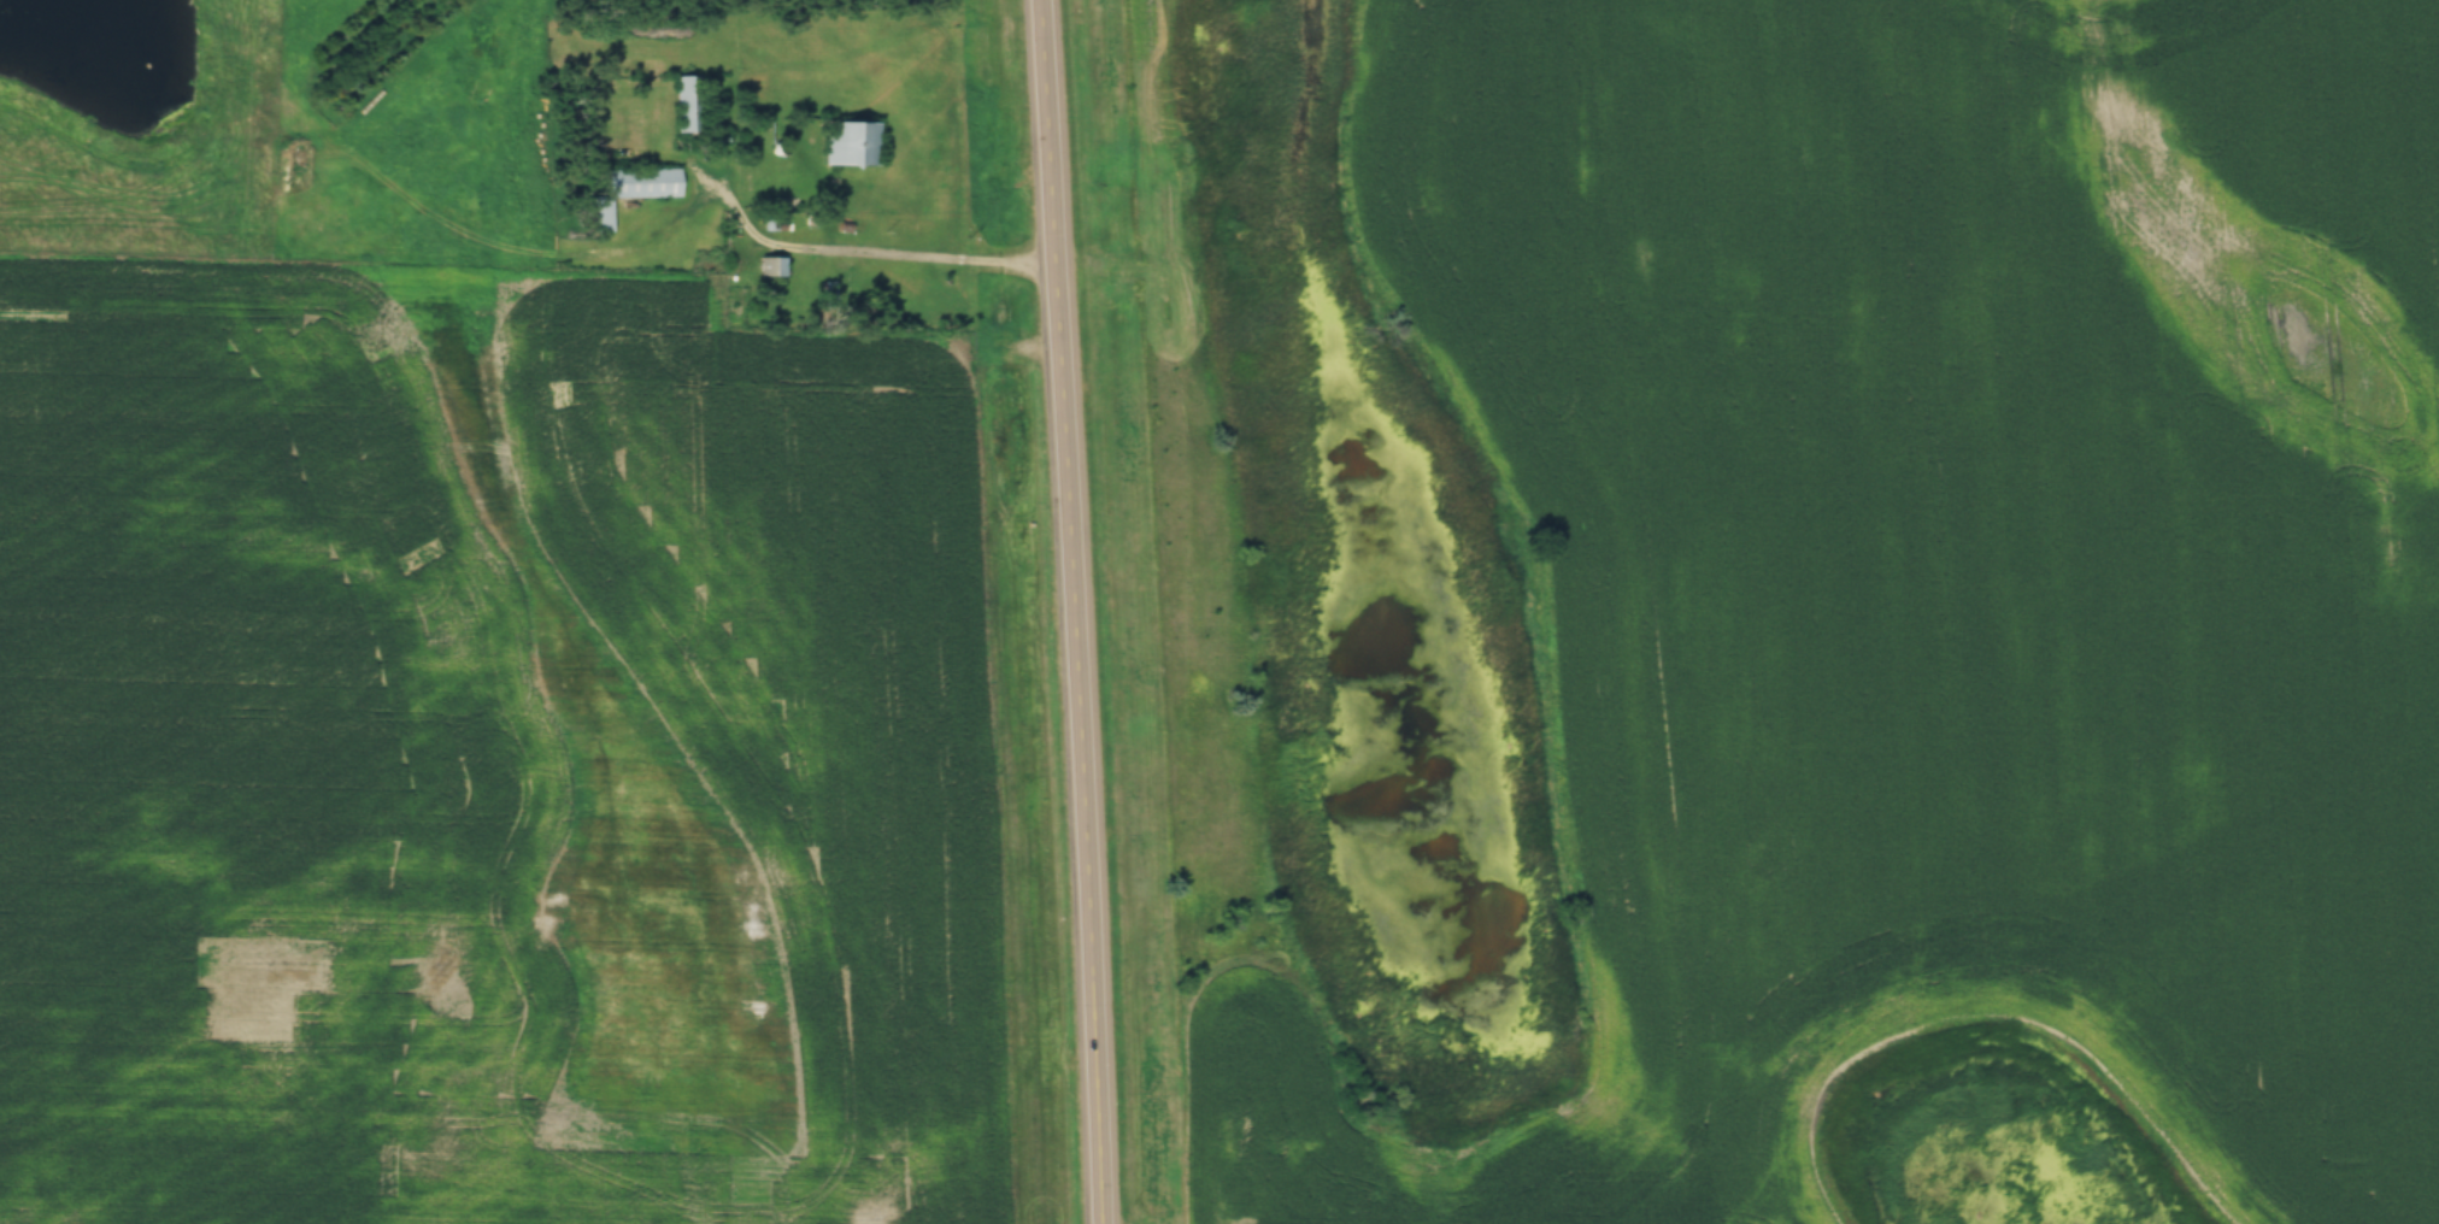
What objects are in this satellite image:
building: (687, 102)
building: (851, 142)
building: (634, 189)
road: (864, 251)
road: (1071, 612)

